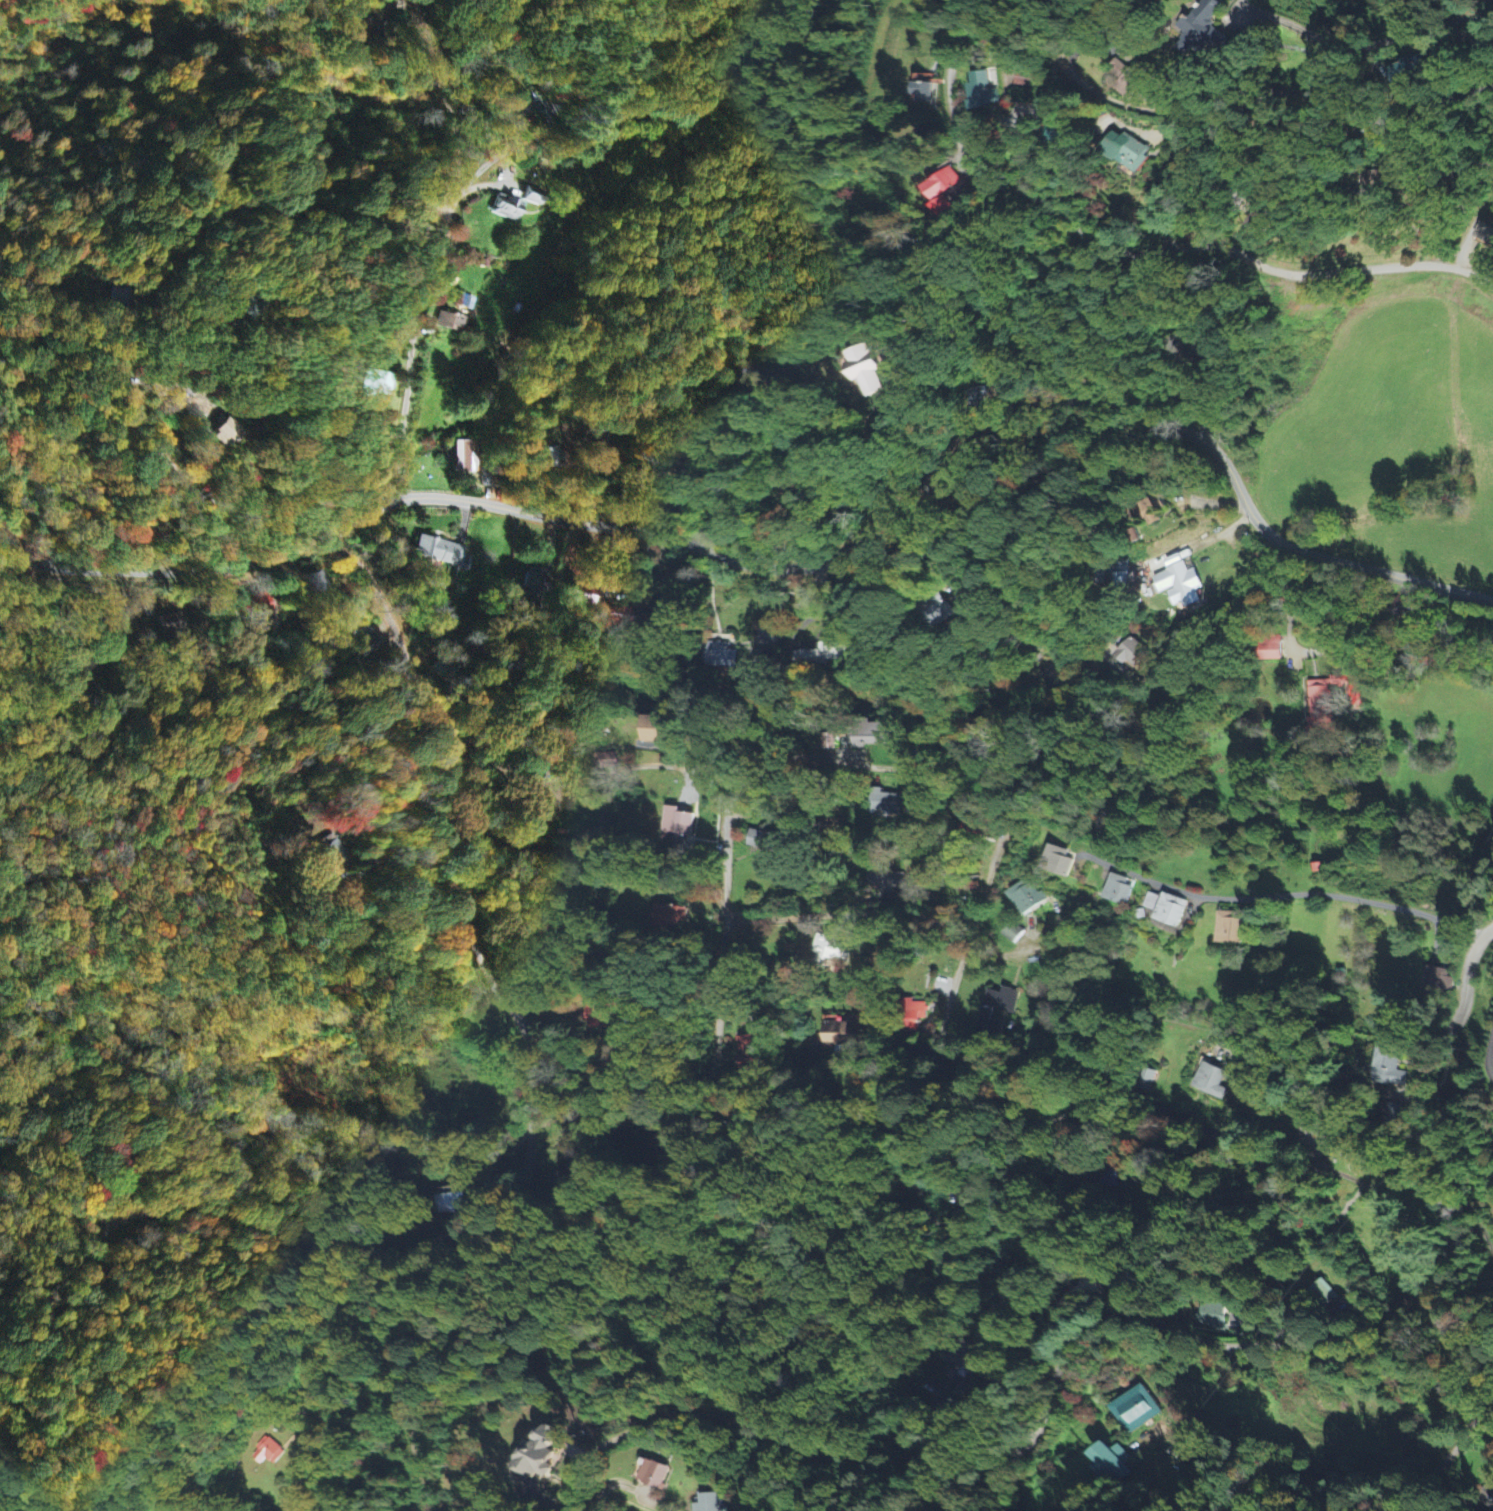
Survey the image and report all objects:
building: (1204, 30)
road: (1374, 30)
building: (1127, 82)
building: (922, 91)
building: (980, 92)
road: (1240, 95)
building: (523, 103)
building: (1127, 152)
building: (942, 184)
building: (505, 209)
building: (945, 209)
road: (190, 226)
building: (1488, 233)
road: (446, 246)
road: (1135, 253)
road: (569, 275)
building: (452, 323)
road: (777, 370)
building: (863, 370)
building: (380, 385)
road: (1183, 392)
building: (223, 434)
building: (465, 456)
road: (1033, 489)
building: (444, 553)
road: (790, 568)
building: (316, 584)
building: (1180, 586)
building: (938, 614)
building: (665, 618)
road: (953, 633)
building: (368, 649)
building: (1130, 653)
building: (825, 654)
building: (721, 656)
road: (1393, 657)
building: (1343, 683)
building: (1320, 707)
building: (658, 729)
building: (871, 736)
building: (885, 803)
building: (677, 823)
road: (1350, 826)
road: (728, 829)
building: (764, 841)
building: (330, 853)
building: (1059, 860)
building: (887, 881)
building: (1118, 891)
building: (1025, 898)
building: (1165, 908)
building: (1231, 928)
building: (829, 948)
road: (958, 973)
building: (1435, 980)
road: (406, 1002)
building: (997, 1008)
building: (844, 1034)
building: (750, 1052)
road: (1490, 1056)
building: (1391, 1066)
road: (710, 1079)
building: (1212, 1081)
building: (1396, 1116)
road: (1361, 1170)
road: (207, 1221)
road: (454, 1228)
road: (871, 1350)
road: (1348, 1356)
building: (960, 1365)
building: (1137, 1409)
building: (267, 1452)
road: (300, 1456)
road: (323, 1457)
building: (538, 1460)
building: (1110, 1464)
building: (655, 1475)
building: (709, 1503)

